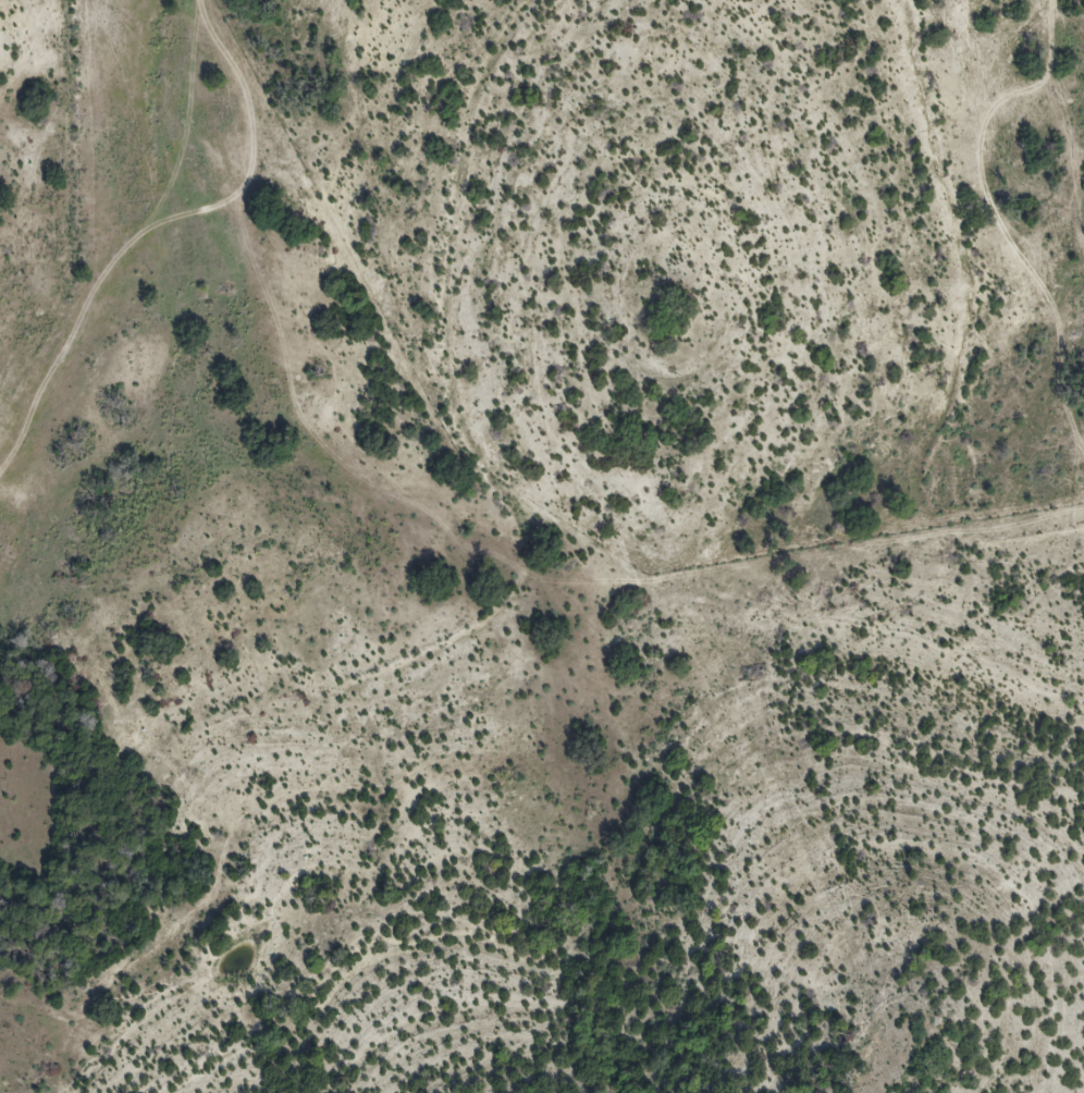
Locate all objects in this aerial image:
road: (1007, 255)

